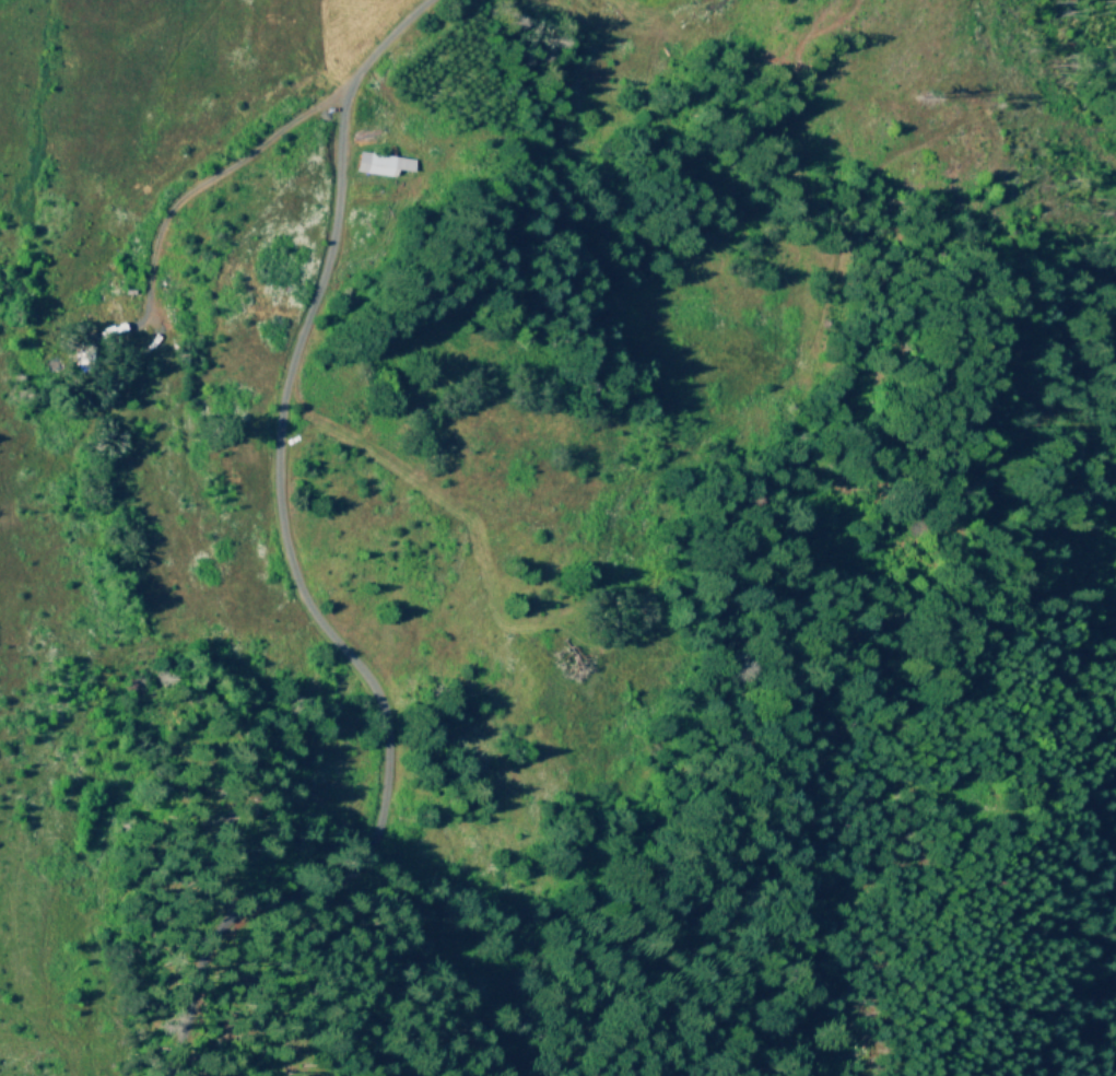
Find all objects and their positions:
road: (239, 238)

